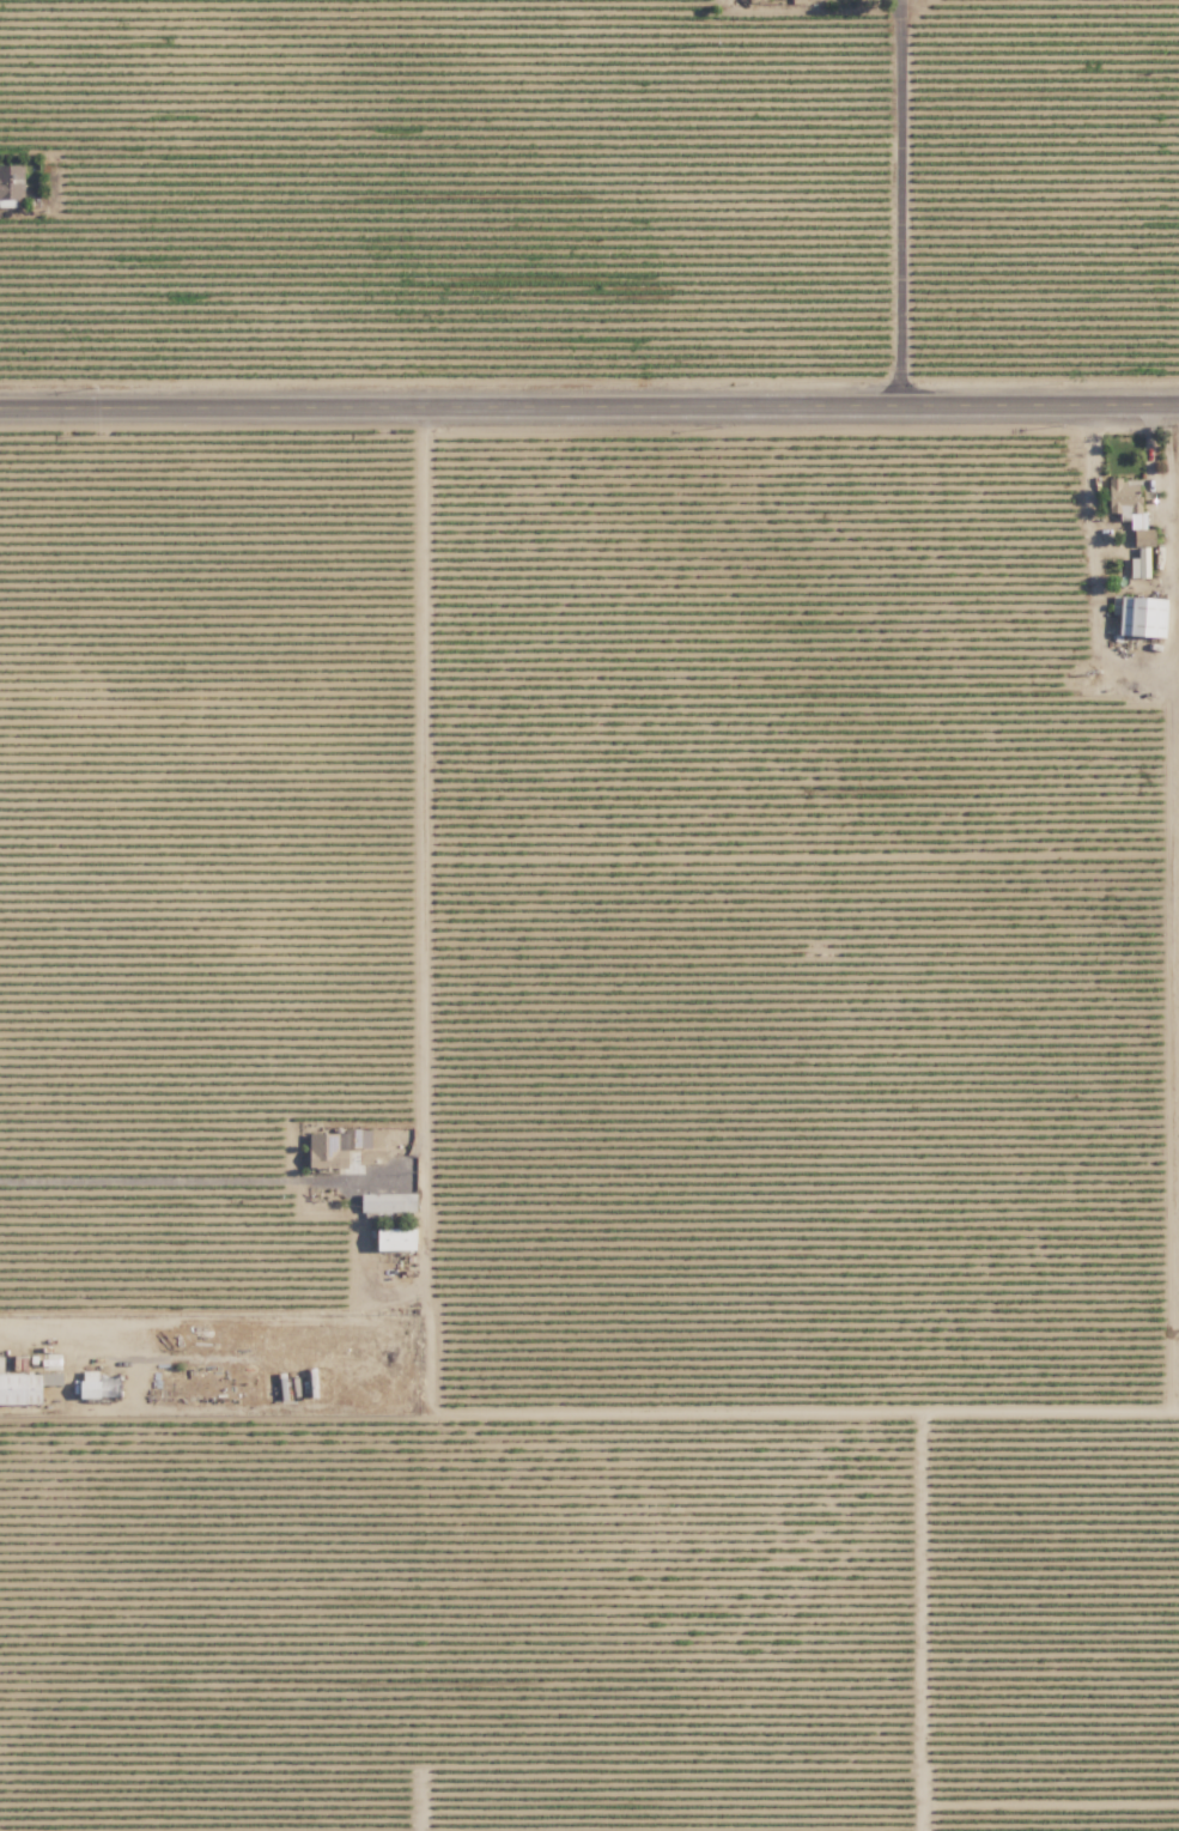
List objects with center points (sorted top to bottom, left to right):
road: (898, 206)
road: (589, 413)
building: (1128, 499)
road: (424, 921)
building: (327, 1152)
road: (162, 1181)
building: (399, 1239)
building: (22, 1388)
road: (589, 1427)

